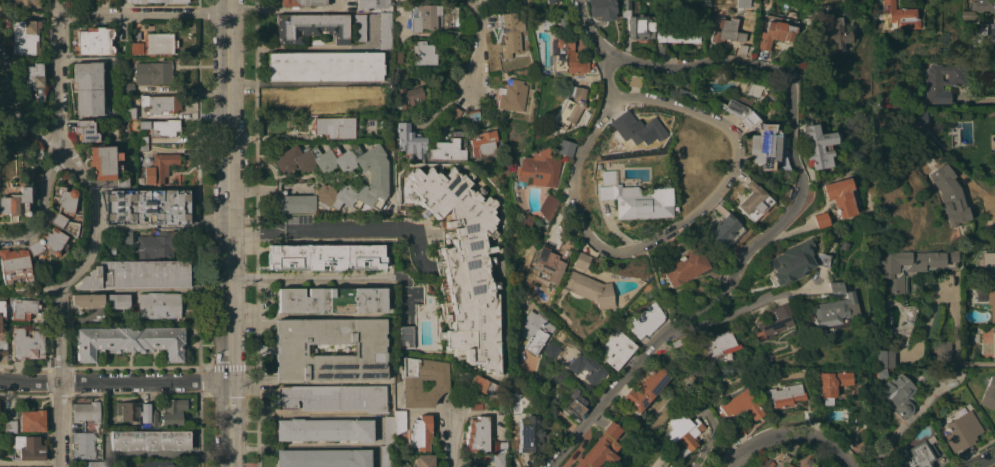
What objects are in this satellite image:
building: (104, 0)
building: (497, 0)
building: (825, 0)
building: (156, 1)
building: (401, 1)
building: (551, 1)
building: (26, 3)
building: (301, 3)
building: (742, 3)
building: (372, 4)
building: (626, 4)
building: (979, 8)
road: (288, 9)
building: (602, 9)
road: (144, 12)
building: (425, 16)
building: (900, 16)
building: (639, 23)
building: (752, 25)
building: (311, 27)
building: (360, 28)
building: (775, 29)
building: (993, 29)
building: (726, 30)
building: (385, 31)
building: (510, 33)
building: (832, 33)
building: (677, 35)
building: (23, 37)
building: (94, 41)
building: (160, 43)
road: (478, 44)
road: (298, 46)
building: (136, 48)
building: (744, 50)
building: (426, 53)
building: (797, 54)
building: (994, 56)
building: (398, 58)
building: (563, 58)
building: (324, 66)
building: (152, 73)
building: (184, 75)
building: (633, 81)
building: (944, 81)
building: (36, 82)
building: (721, 85)
building: (127, 87)
building: (90, 89)
building: (409, 95)
building: (512, 95)
building: (324, 98)
building: (740, 100)
road: (976, 101)
building: (160, 104)
building: (569, 107)
road: (16, 109)
road: (687, 110)
building: (190, 111)
building: (128, 112)
building: (454, 113)
building: (475, 113)
building: (917, 118)
building: (161, 127)
building: (334, 127)
building: (633, 127)
building: (86, 130)
building: (304, 138)
building: (141, 140)
building: (409, 140)
building: (760, 142)
building: (483, 143)
building: (817, 145)
building: (141, 147)
building: (449, 147)
building: (564, 148)
building: (35, 154)
building: (992, 158)
building: (104, 162)
building: (159, 167)
building: (538, 169)
building: (376, 178)
building: (121, 181)
road: (269, 187)
building: (950, 195)
building: (839, 196)
road: (797, 197)
building: (632, 199)
building: (16, 200)
building: (66, 200)
building: (752, 201)
building: (295, 203)
road: (42, 205)
building: (147, 206)
building: (548, 206)
building: (540, 208)
building: (820, 220)
building: (64, 224)
road: (320, 227)
building: (723, 231)
road: (585, 232)
road: (229, 233)
road: (98, 234)
building: (124, 235)
building: (47, 243)
building: (157, 244)
building: (844, 245)
building: (543, 253)
building: (326, 256)
building: (822, 259)
building: (579, 260)
building: (792, 262)
building: (463, 263)
building: (13, 265)
building: (681, 266)
building: (909, 266)
building: (989, 269)
building: (136, 274)
road: (317, 277)
building: (835, 287)
building: (589, 289)
building: (862, 294)
building: (88, 300)
building: (118, 300)
building: (332, 300)
building: (991, 304)
building: (159, 305)
road: (745, 306)
building: (23, 309)
building: (834, 310)
building: (2, 316)
building: (646, 320)
building: (774, 321)
building: (534, 330)
building: (405, 337)
building: (681, 340)
building: (129, 341)
building: (27, 344)
road: (953, 345)
building: (994, 345)
building: (719, 346)
building: (3, 347)
building: (291, 349)
building: (615, 349)
building: (941, 349)
building: (551, 350)
building: (883, 358)
building: (585, 368)
building: (880, 373)
road: (113, 381)
building: (411, 382)
building: (831, 384)
building: (483, 385)
building: (646, 388)
building: (989, 393)
building: (786, 395)
building: (898, 395)
building: (332, 397)
road: (543, 400)
building: (574, 403)
building: (476, 404)
building: (741, 405)
building: (127, 410)
building: (85, 411)
building: (171, 413)
building: (144, 414)
road: (300, 415)
building: (153, 418)
building: (399, 420)
building: (31, 421)
building: (9, 426)
building: (325, 429)
building: (961, 429)
building: (388, 430)
building: (421, 433)
building: (739, 433)
road: (785, 433)
building: (477, 434)
building: (530, 434)
building: (683, 434)
building: (149, 440)
road: (454, 440)
building: (83, 445)
road: (303, 446)
building: (501, 446)
building: (29, 447)
building: (601, 448)
building: (387, 456)
building: (917, 456)
building: (324, 458)
building: (423, 460)
building: (499, 460)
road: (734, 462)
building: (764, 462)
building: (471, 463)
road: (990, 463)
building: (94, 464)
building: (160, 464)
building: (399, 464)
building: (789, 465)
building: (27, 466)

